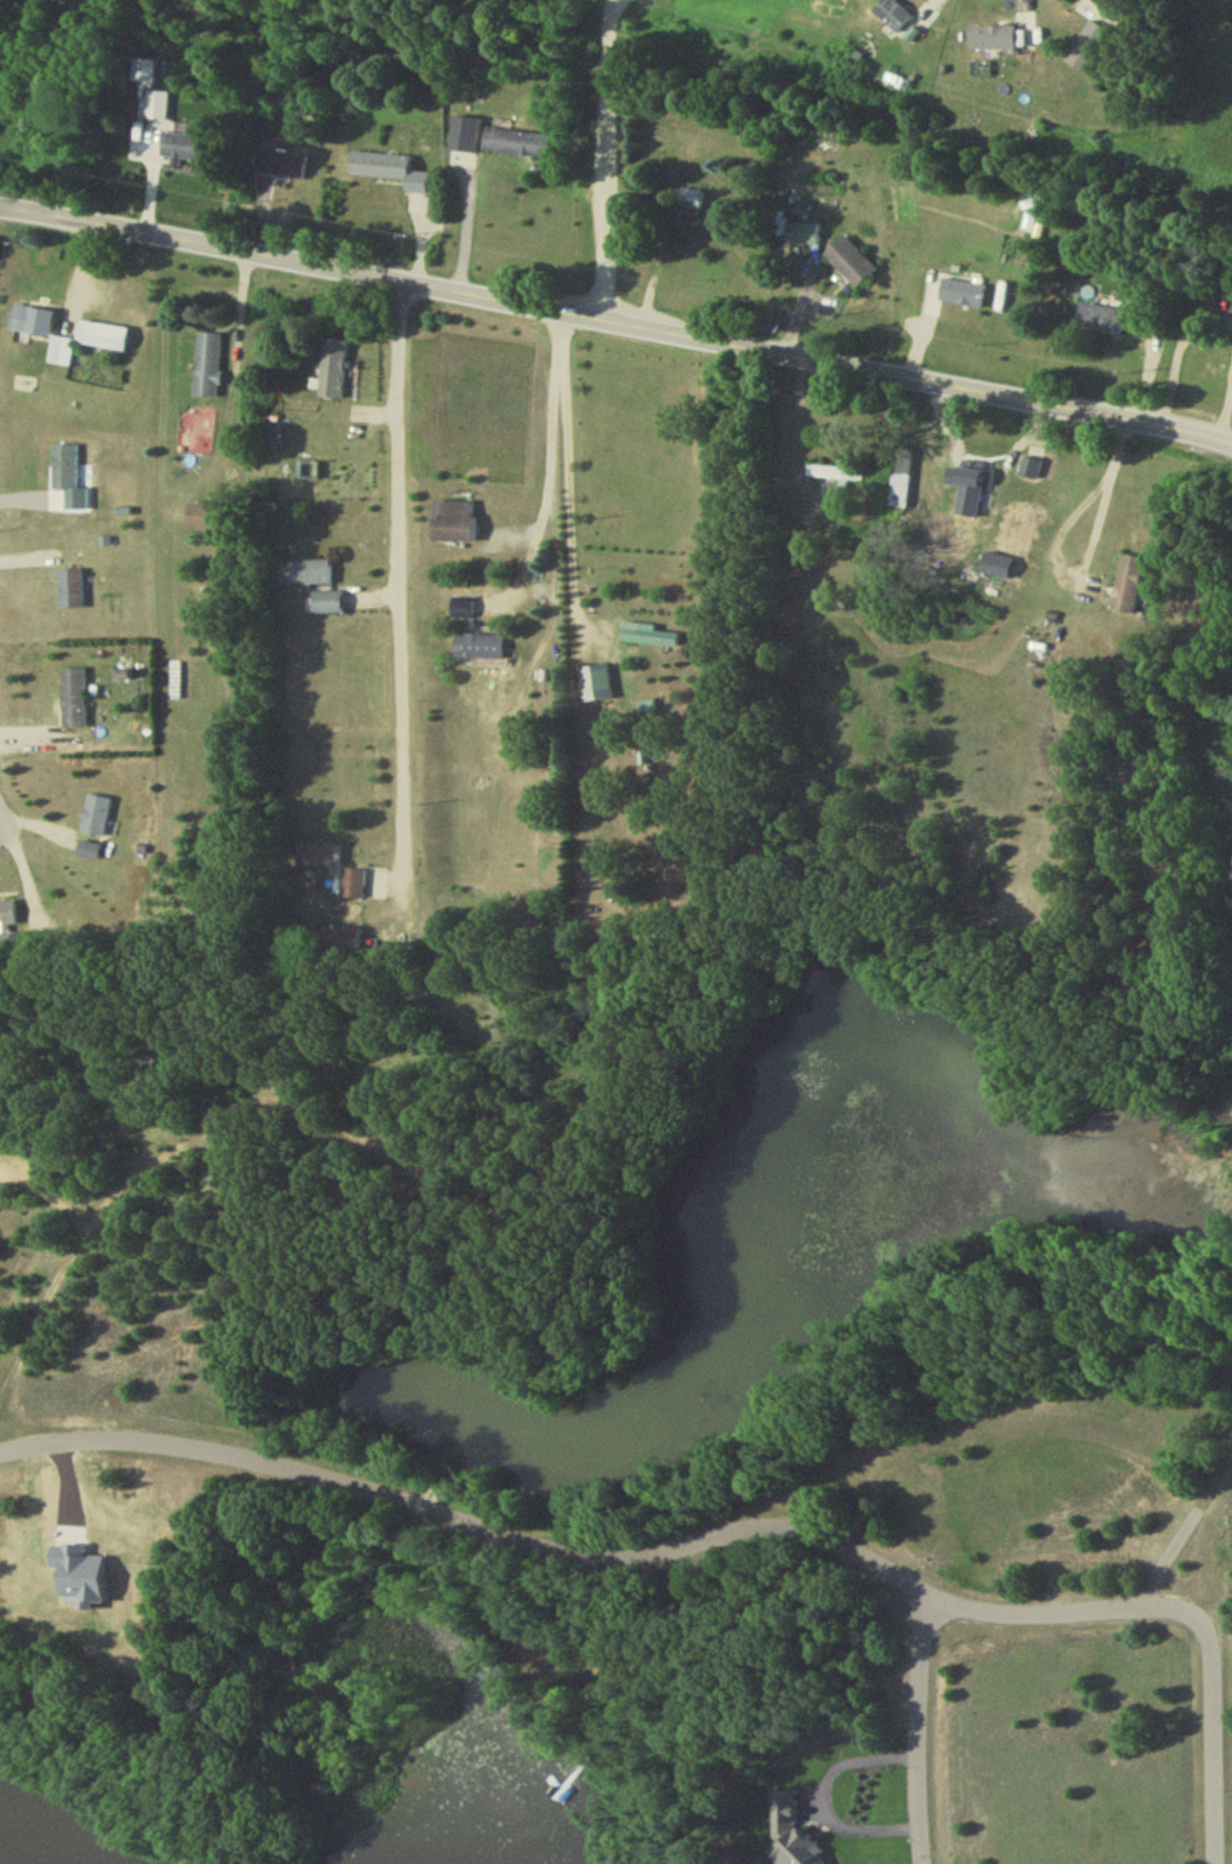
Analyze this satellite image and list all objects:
road: (625, 0)
road: (1084, 8)
building: (891, 21)
building: (989, 44)
building: (1084, 52)
building: (155, 110)
building: (464, 141)
building: (515, 148)
building: (182, 152)
road: (607, 160)
building: (279, 169)
building: (387, 176)
building: (688, 203)
road: (454, 231)
building: (801, 239)
building: (848, 267)
building: (959, 297)
building: (1098, 324)
building: (29, 325)
road: (617, 325)
building: (101, 341)
building: (59, 356)
road: (1179, 356)
building: (208, 370)
building: (331, 374)
road: (1227, 417)
building: (833, 478)
road: (547, 484)
building: (902, 484)
road: (573, 490)
building: (965, 493)
building: (201, 522)
building: (450, 527)
road: (1073, 557)
building: (305, 576)
building: (1126, 587)
road: (401, 592)
building: (70, 593)
building: (327, 606)
building: (648, 640)
building: (476, 649)
building: (594, 688)
building: (73, 703)
building: (96, 820)
building: (352, 888)
building: (7, 917)
building: (341, 945)
road: (597, 1561)
road: (1214, 1734)
road: (916, 1737)
road: (835, 1778)

